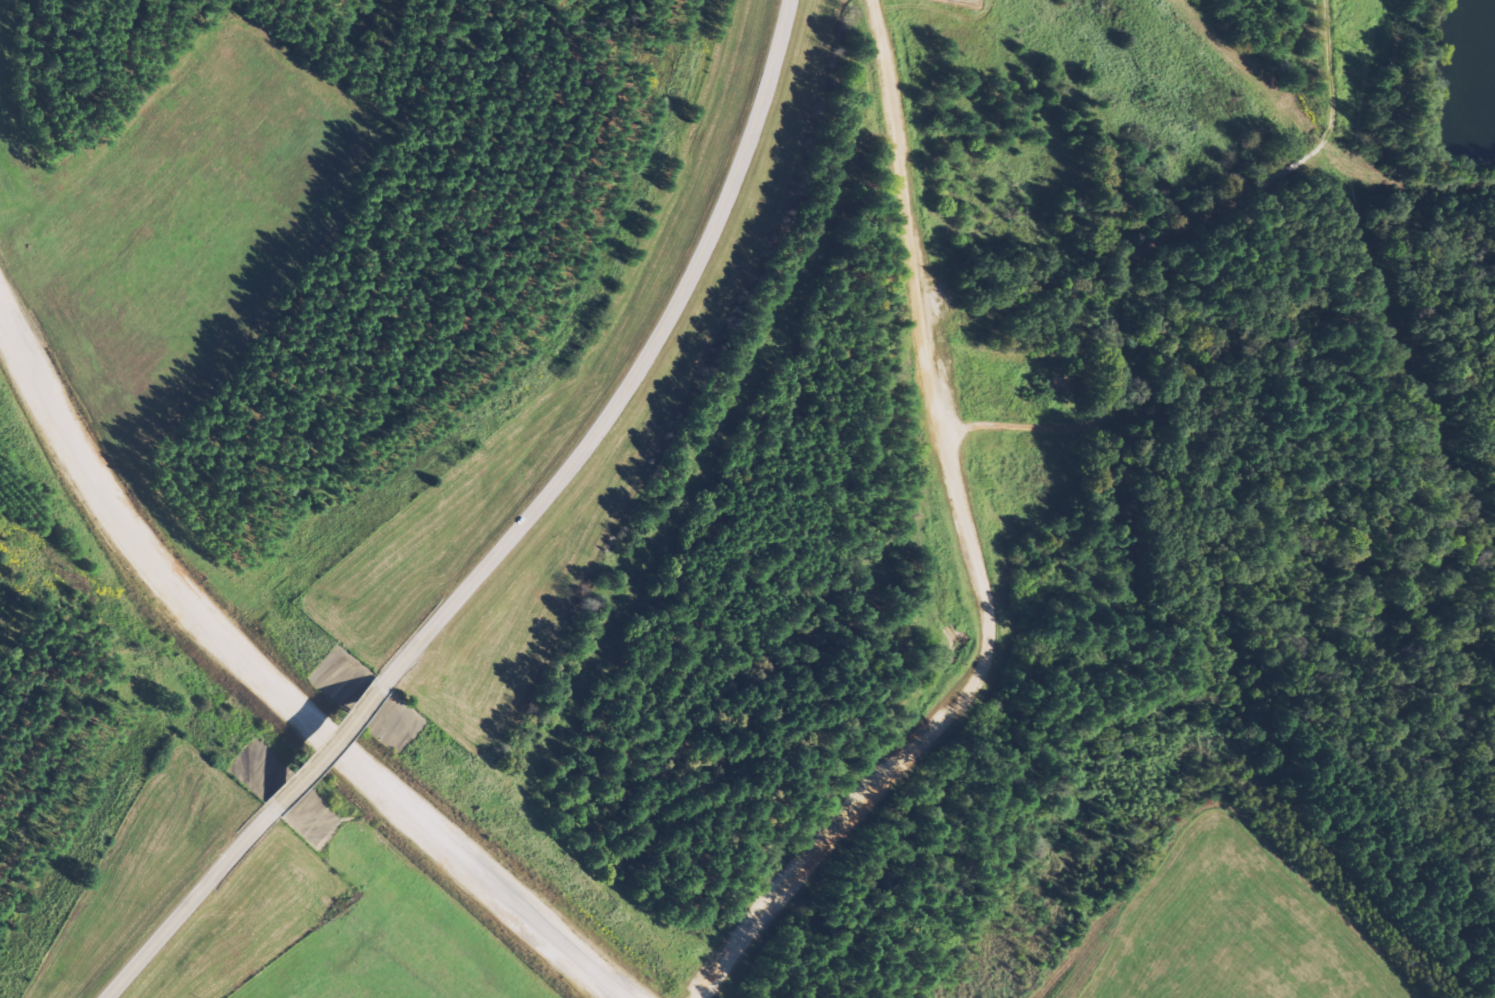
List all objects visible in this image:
road: (634, 371)
road: (266, 681)
road: (320, 745)
road: (185, 903)

